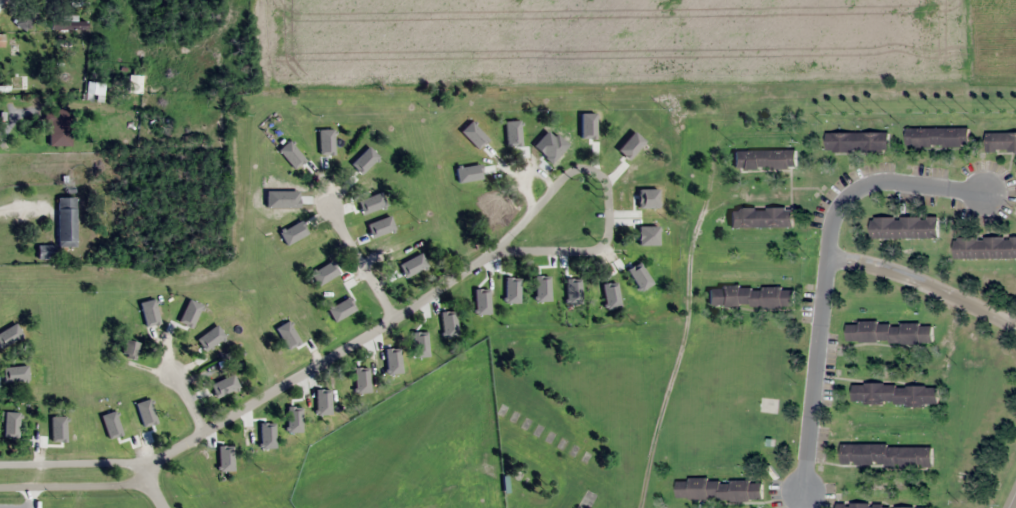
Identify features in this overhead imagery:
building: (70, 22)
building: (61, 56)
building: (94, 90)
building: (58, 127)
building: (515, 133)
building: (936, 137)
building: (1000, 141)
building: (857, 142)
building: (552, 143)
building: (494, 144)
building: (618, 146)
building: (330, 152)
building: (764, 159)
building: (358, 162)
building: (299, 166)
building: (639, 168)
road: (524, 173)
building: (479, 179)
road: (607, 191)
building: (371, 193)
building: (287, 194)
building: (644, 200)
building: (495, 209)
road: (20, 213)
building: (760, 217)
building: (65, 221)
building: (903, 227)
building: (297, 228)
building: (642, 235)
building: (376, 236)
building: (984, 247)
road: (361, 261)
building: (406, 261)
building: (330, 266)
building: (512, 278)
building: (540, 279)
road: (823, 281)
road: (922, 284)
building: (575, 286)
building: (602, 286)
building: (750, 296)
building: (479, 297)
building: (337, 304)
building: (450, 321)
building: (181, 323)
building: (146, 328)
building: (10, 332)
building: (888, 332)
building: (204, 337)
building: (289, 343)
building: (129, 348)
building: (418, 349)
building: (388, 366)
building: (14, 373)
building: (213, 380)
building: (356, 384)
building: (325, 393)
building: (894, 394)
road: (187, 400)
road: (255, 400)
building: (295, 411)
building: (151, 417)
building: (113, 430)
building: (265, 430)
building: (56, 434)
building: (885, 455)
road: (153, 489)
building: (718, 489)
road: (1013, 503)
road: (1014, 504)
building: (879, 506)

